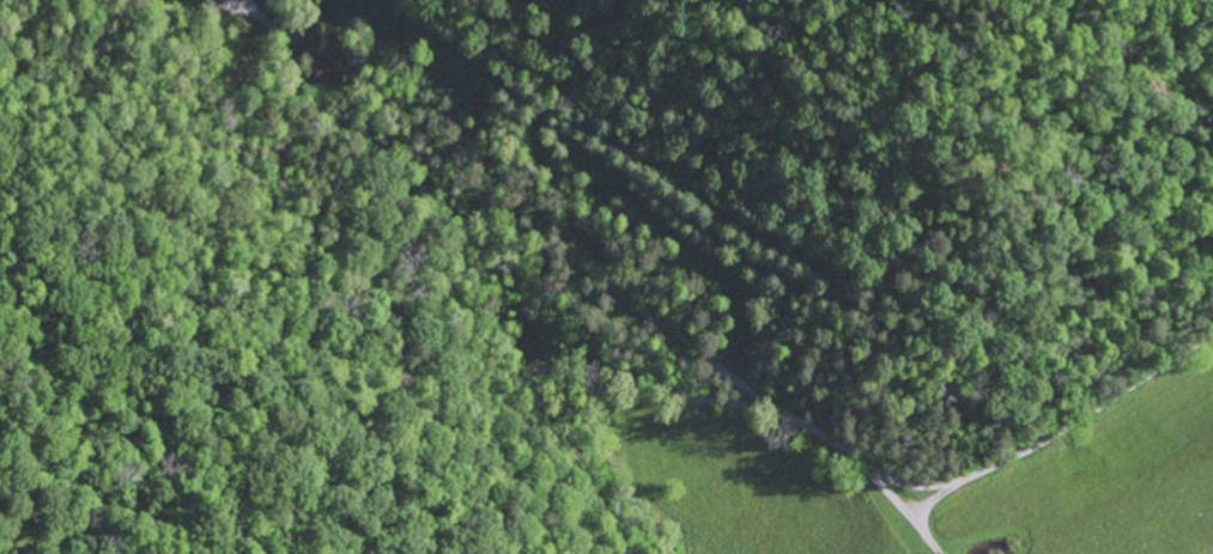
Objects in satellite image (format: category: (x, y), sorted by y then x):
road: (922, 220)
road: (1124, 409)

